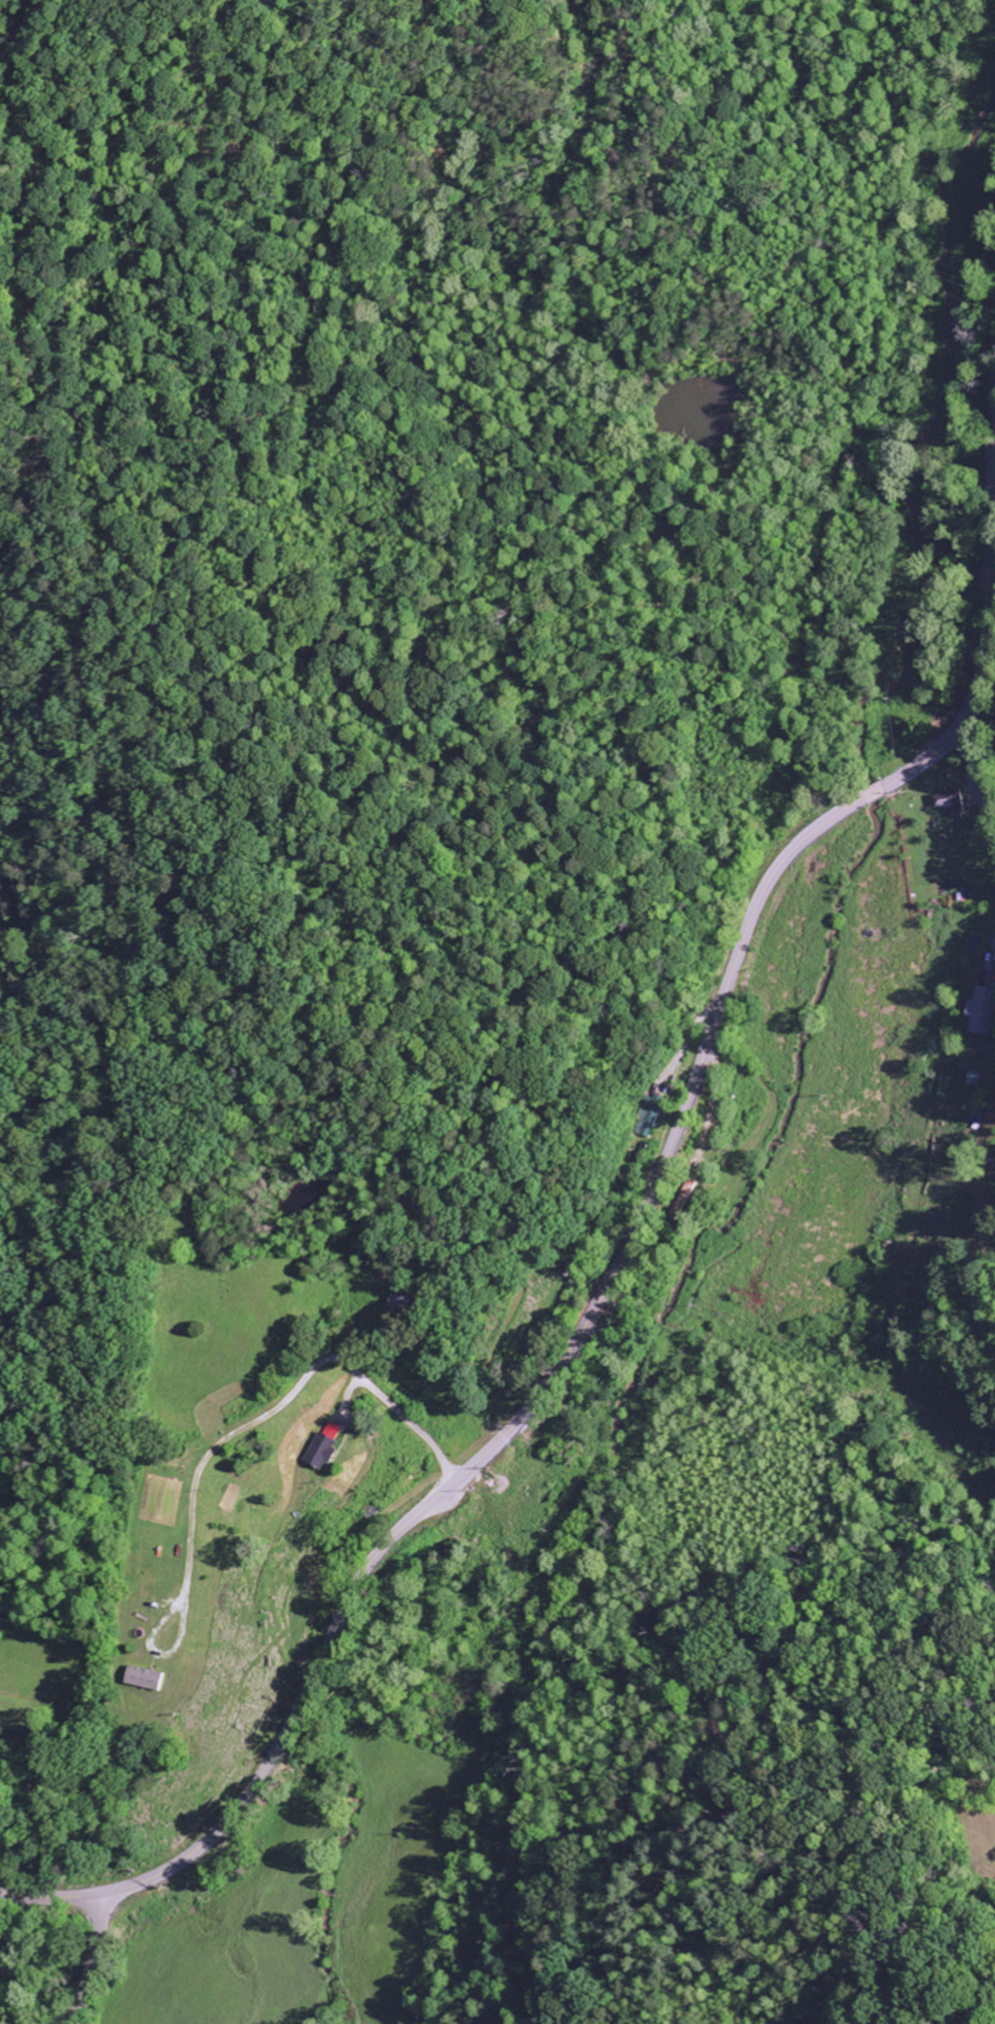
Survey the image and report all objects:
road: (979, 786)
building: (954, 802)
building: (976, 1015)
road: (636, 1240)
building: (330, 1449)
building: (151, 1677)
road: (92, 1961)

